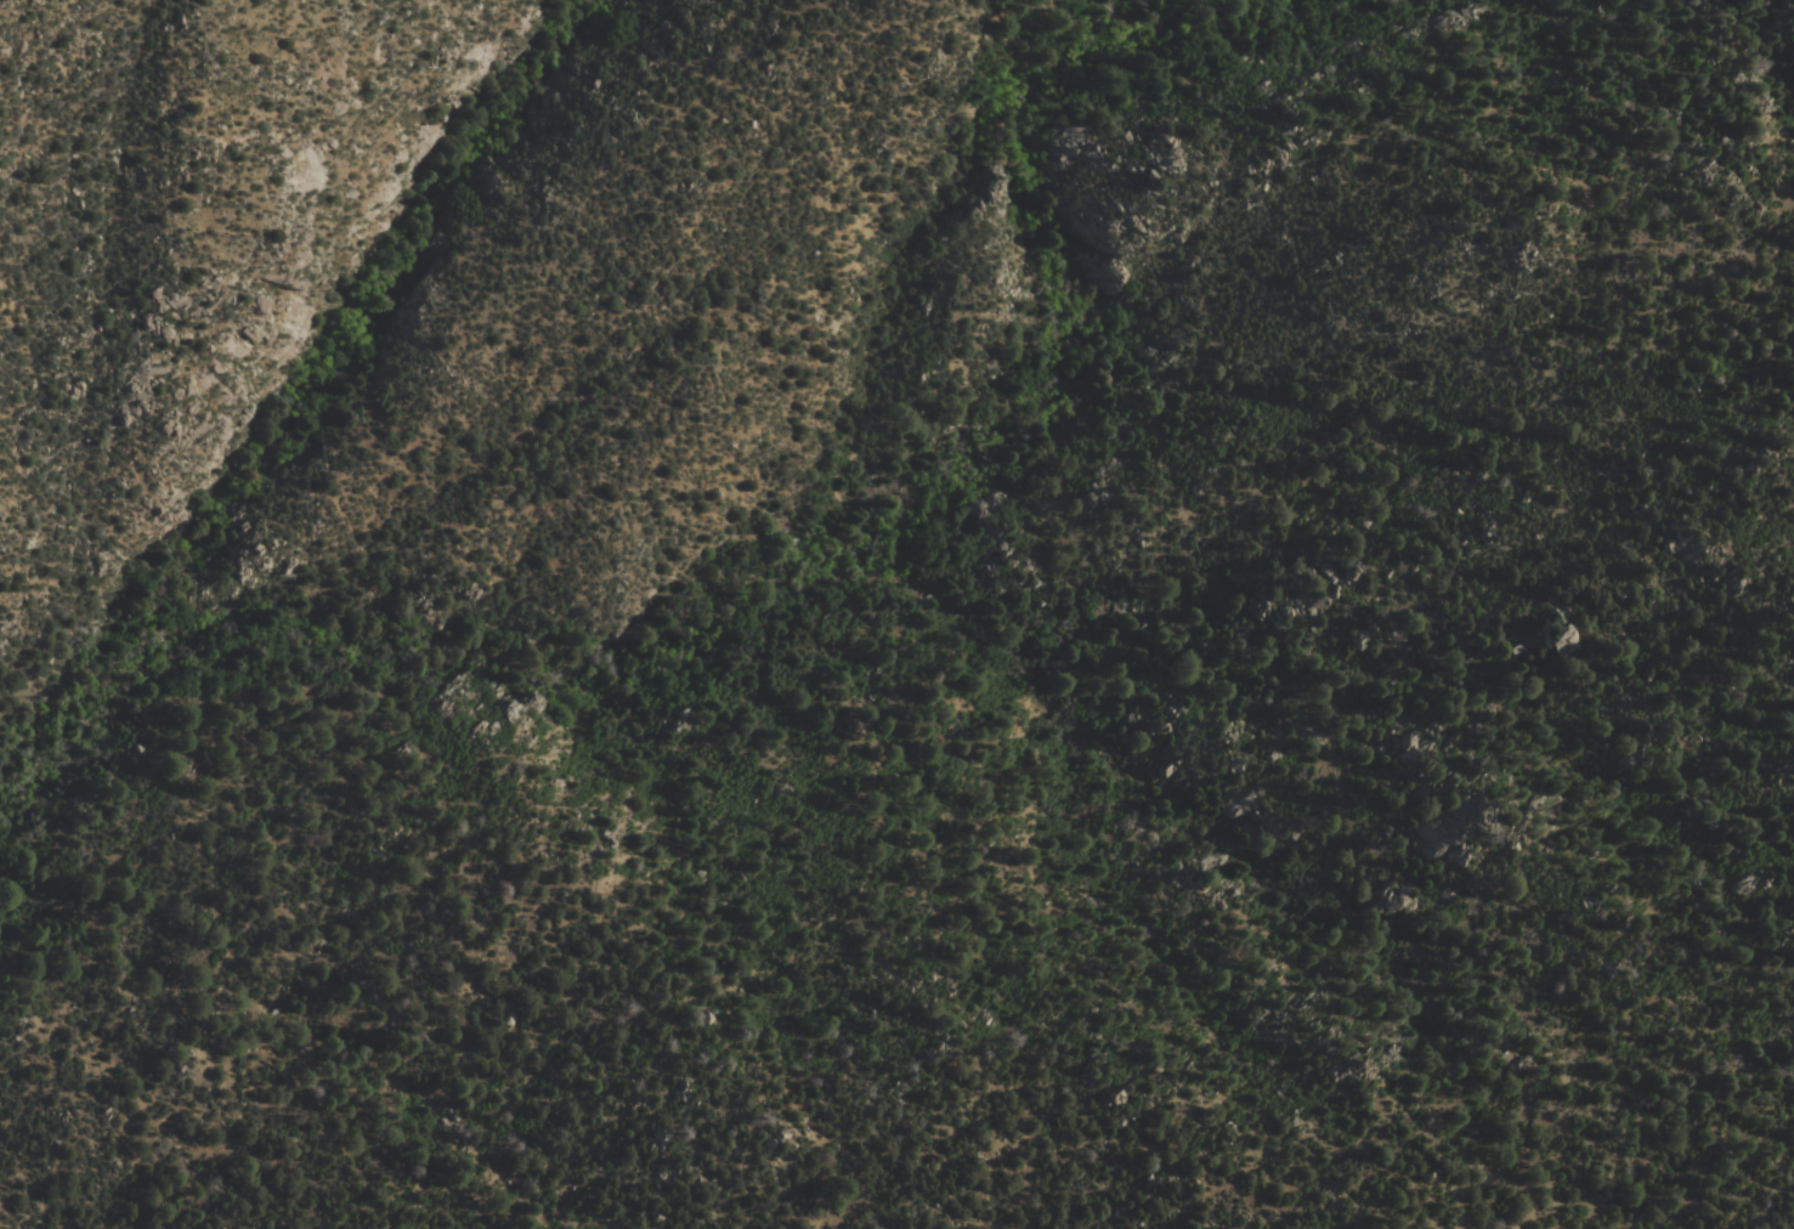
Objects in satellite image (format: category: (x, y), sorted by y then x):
road: (730, 617)

